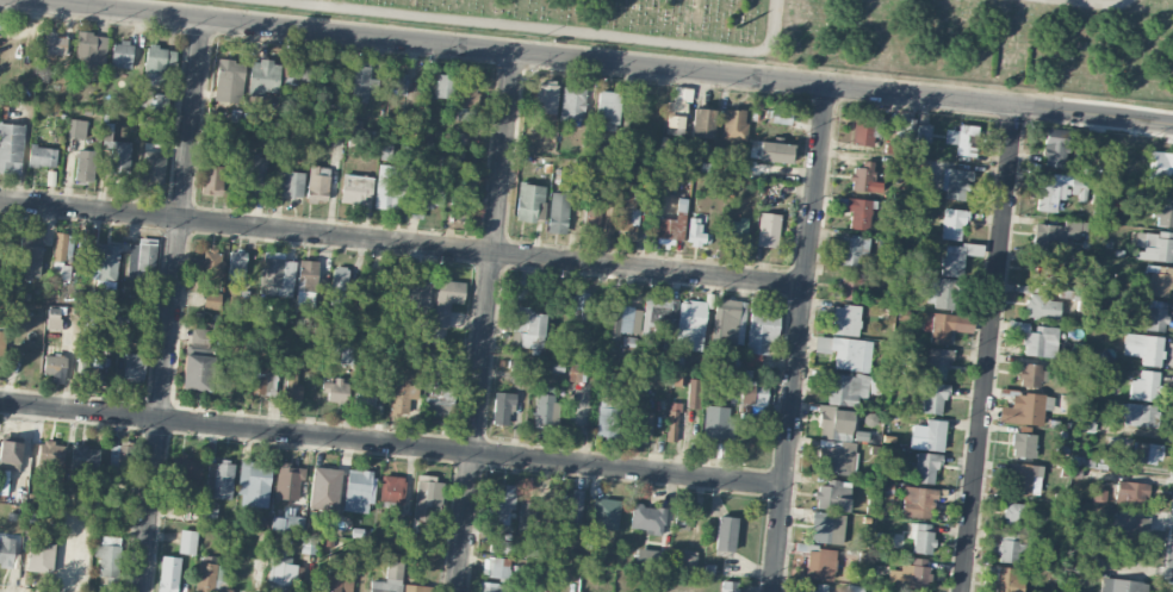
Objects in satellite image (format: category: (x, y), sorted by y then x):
road: (1104, 1)
road: (94, 4)
road: (553, 29)
park: (863, 33)
building: (54, 45)
building: (91, 50)
building: (122, 54)
road: (601, 61)
building: (157, 63)
building: (263, 77)
building: (229, 81)
building: (397, 83)
building: (362, 85)
building: (443, 86)
building: (682, 93)
building: (545, 98)
building: (466, 100)
building: (572, 104)
building: (607, 110)
building: (675, 117)
building: (780, 117)
building: (701, 123)
building: (734, 125)
building: (906, 127)
building: (76, 129)
building: (864, 130)
building: (923, 132)
building: (962, 139)
building: (11, 148)
building: (1054, 151)
building: (775, 152)
building: (117, 154)
building: (42, 156)
building: (85, 166)
building: (919, 167)
building: (1161, 167)
building: (252, 173)
building: (863, 179)
building: (212, 180)
building: (317, 182)
building: (290, 183)
building: (955, 183)
building: (391, 186)
building: (355, 189)
building: (1060, 191)
building: (426, 195)
building: (528, 201)
building: (466, 208)
building: (1163, 210)
building: (621, 211)
building: (557, 212)
building: (858, 213)
building: (591, 219)
building: (951, 224)
building: (672, 225)
building: (734, 230)
building: (768, 230)
building: (695, 232)
building: (1057, 235)
road: (403, 242)
building: (1154, 245)
building: (852, 250)
building: (30, 254)
building: (61, 254)
building: (141, 260)
building: (951, 260)
building: (207, 263)
building: (236, 264)
building: (104, 266)
building: (1044, 268)
building: (1159, 280)
building: (306, 282)
building: (339, 286)
building: (851, 286)
building: (386, 288)
building: (939, 293)
building: (415, 294)
building: (211, 300)
building: (445, 301)
building: (584, 303)
road: (174, 305)
building: (1041, 306)
building: (615, 314)
building: (658, 318)
building: (845, 319)
building: (1155, 319)
building: (52, 322)
road: (485, 322)
building: (728, 322)
building: (690, 325)
building: (944, 325)
building: (528, 329)
building: (762, 331)
road: (800, 338)
building: (0, 342)
building: (1039, 342)
building: (1143, 348)
road: (989, 350)
building: (845, 351)
building: (345, 353)
building: (197, 360)
building: (937, 363)
building: (54, 364)
building: (134, 366)
building: (577, 372)
building: (1030, 375)
building: (229, 379)
building: (257, 384)
building: (1144, 386)
building: (292, 387)
building: (403, 387)
building: (849, 388)
building: (335, 390)
building: (436, 393)
building: (694, 393)
building: (366, 398)
building: (932, 398)
building: (755, 399)
building: (502, 406)
building: (545, 406)
building: (1024, 409)
building: (1138, 415)
building: (608, 417)
building: (674, 419)
building: (716, 422)
building: (834, 423)
building: (1085, 423)
building: (641, 424)
building: (927, 436)
road: (392, 443)
building: (1023, 444)
building: (51, 453)
building: (1146, 453)
building: (83, 456)
building: (837, 459)
building: (8, 461)
building: (119, 462)
building: (925, 468)
building: (187, 471)
building: (219, 479)
building: (1024, 479)
building: (288, 481)
building: (254, 484)
building: (324, 488)
building: (392, 488)
building: (358, 490)
building: (1130, 493)
building: (832, 496)
building: (427, 497)
building: (917, 501)
building: (499, 504)
building: (575, 511)
building: (604, 513)
building: (1014, 515)
building: (682, 516)
building: (647, 518)
building: (286, 523)
building: (1122, 526)
building: (826, 528)
building: (725, 534)
building: (921, 537)
building: (187, 542)
building: (498, 546)
building: (1008, 548)
building: (6, 552)
building: (39, 556)
building: (107, 557)
building: (646, 557)
building: (688, 562)
building: (819, 563)
building: (279, 571)
building: (168, 574)
building: (391, 574)
building: (914, 575)
building: (211, 578)
building: (1006, 580)
building: (336, 584)
building: (1121, 585)
building: (728, 586)
building: (415, 588)
building: (670, 590)

